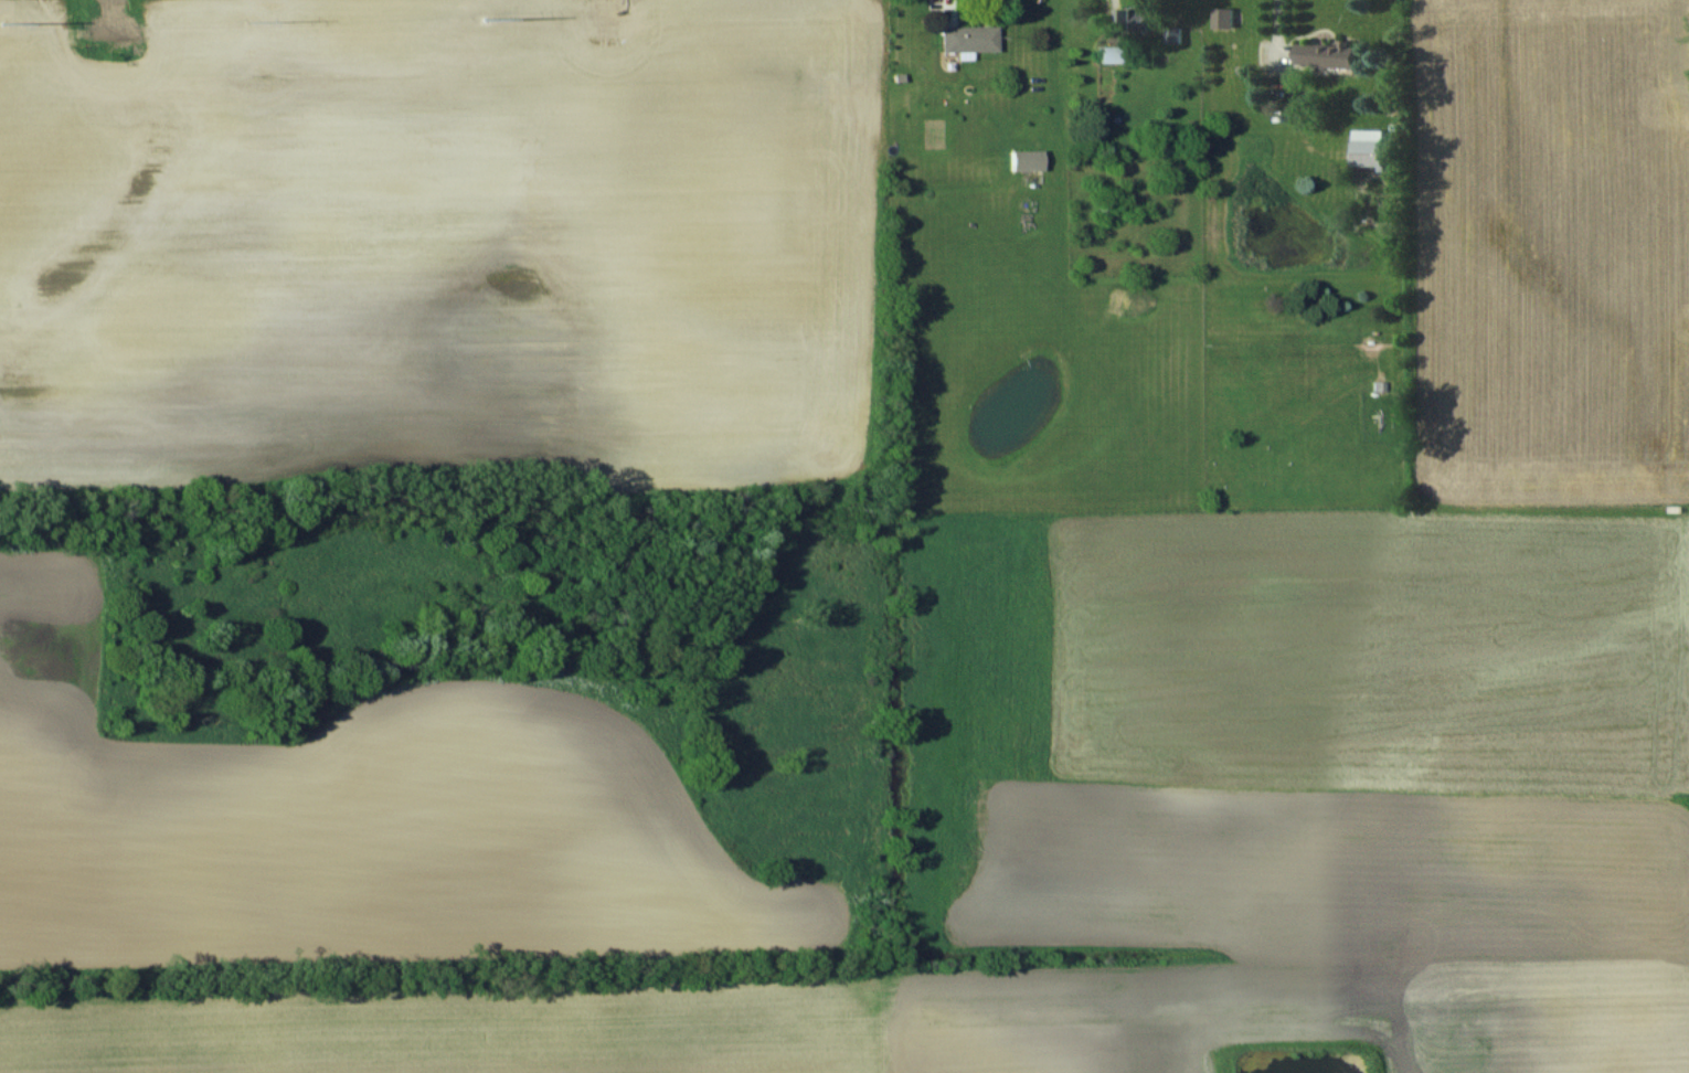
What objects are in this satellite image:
building: (1222, 17)
building: (1134, 18)
building: (1326, 54)
building: (1369, 147)
building: (1026, 159)

